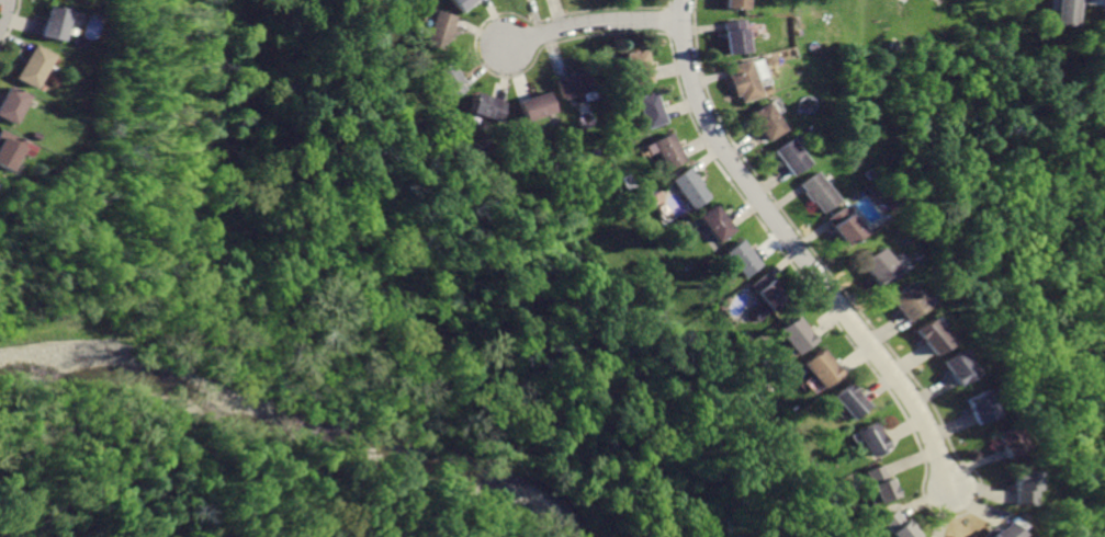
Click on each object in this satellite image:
road: (666, 1)
building: (463, 3)
building: (736, 3)
road: (1079, 3)
building: (1061, 11)
road: (4, 14)
road: (666, 18)
building: (52, 23)
road: (595, 24)
building: (441, 31)
building: (734, 36)
road: (475, 47)
building: (34, 67)
building: (639, 67)
building: (451, 80)
building: (744, 80)
building: (575, 83)
building: (12, 104)
building: (538, 106)
building: (489, 107)
building: (651, 108)
building: (766, 122)
building: (9, 149)
building: (667, 151)
building: (791, 157)
building: (689, 186)
building: (818, 192)
building: (715, 225)
building: (844, 227)
road: (800, 252)
building: (741, 260)
building: (877, 267)
building: (770, 290)
building: (904, 301)
building: (758, 311)
building: (799, 334)
building: (928, 338)
building: (954, 367)
building: (825, 368)
building: (852, 401)
building: (976, 407)
building: (873, 439)
building: (1006, 444)
building: (882, 483)
building: (1021, 489)
road: (968, 507)
building: (901, 525)
building: (1003, 533)

